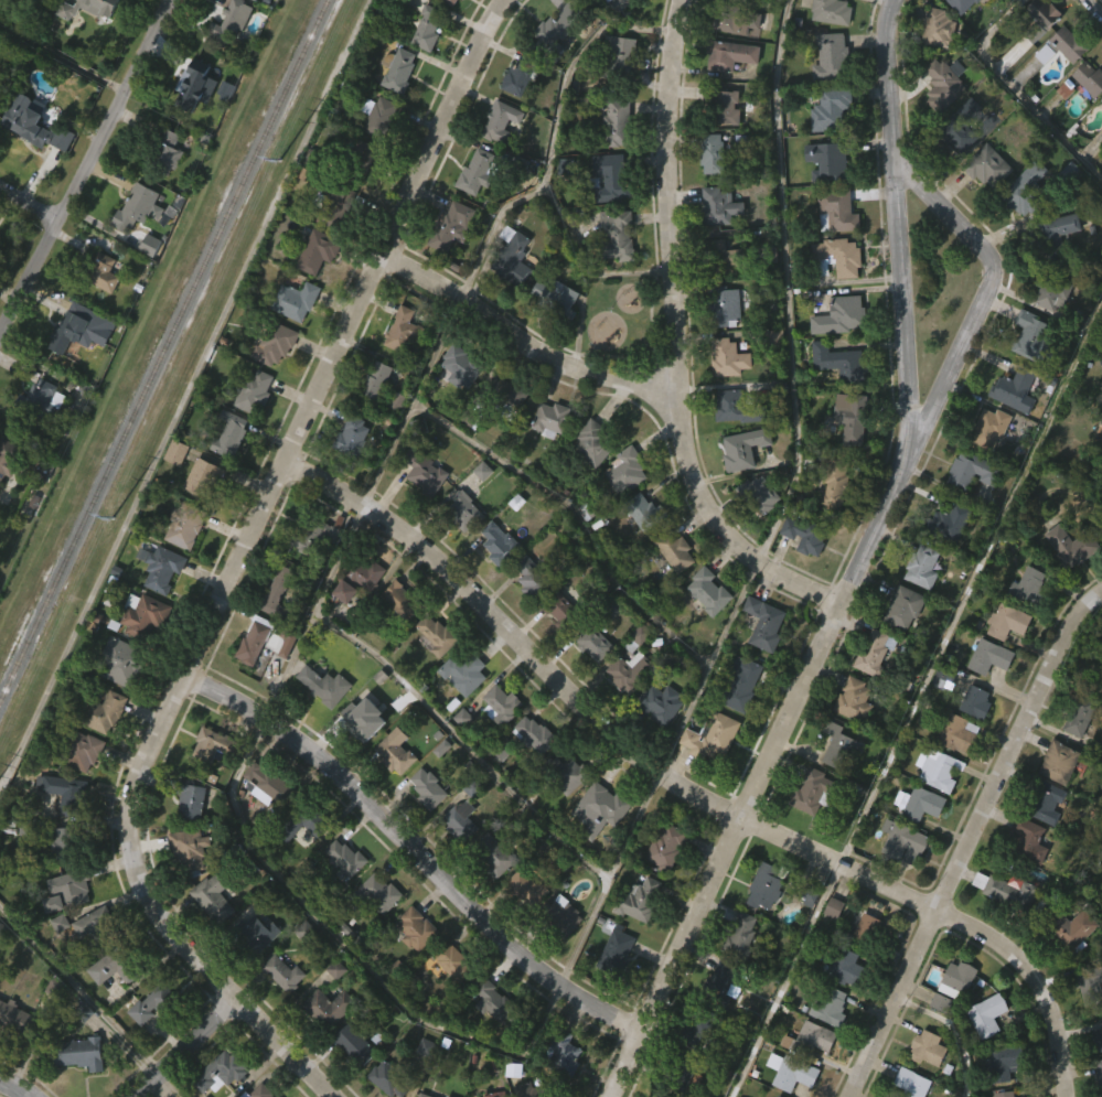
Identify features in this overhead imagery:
building: (472, 0)
building: (590, 0)
building: (451, 2)
building: (617, 4)
building: (770, 4)
building: (852, 4)
building: (45, 6)
building: (962, 6)
building: (90, 7)
building: (1018, 7)
building: (253, 8)
building: (833, 11)
building: (1047, 12)
building: (737, 21)
building: (229, 22)
building: (605, 28)
building: (431, 29)
building: (939, 29)
building: (961, 29)
building: (556, 32)
building: (89, 35)
building: (1063, 46)
building: (1039, 47)
building: (622, 53)
building: (730, 55)
building: (832, 57)
building: (223, 63)
building: (422, 65)
building: (550, 67)
building: (933, 67)
building: (398, 71)
building: (520, 75)
building: (1063, 80)
building: (1089, 80)
building: (945, 83)
building: (195, 85)
building: (614, 90)
building: (726, 92)
road: (1018, 92)
building: (826, 94)
building: (724, 105)
building: (394, 106)
building: (835, 108)
building: (513, 115)
building: (1085, 116)
building: (378, 117)
building: (501, 122)
building: (621, 122)
building: (937, 122)
building: (26, 126)
building: (962, 127)
road: (554, 137)
building: (1100, 138)
building: (720, 144)
building: (163, 152)
building: (373, 153)
building: (713, 153)
building: (834, 158)
building: (496, 159)
building: (30, 161)
power tower: (281, 161)
building: (360, 161)
building: (959, 164)
building: (1100, 164)
road: (85, 165)
building: (988, 166)
building: (478, 172)
building: (1070, 174)
building: (614, 178)
building: (162, 189)
building: (360, 190)
building: (707, 190)
building: (1026, 190)
road: (668, 193)
building: (822, 197)
road: (30, 203)
building: (557, 203)
building: (982, 203)
building: (332, 204)
building: (721, 206)
building: (472, 207)
building: (137, 208)
building: (841, 211)
building: (607, 214)
building: (451, 226)
building: (1019, 226)
building: (618, 235)
building: (1055, 236)
building: (715, 243)
building: (135, 245)
building: (320, 251)
building: (721, 257)
building: (513, 258)
building: (836, 258)
building: (448, 261)
road: (590, 264)
building: (1051, 270)
building: (101, 272)
building: (612, 272)
building: (145, 281)
road: (788, 283)
building: (313, 288)
road: (984, 289)
building: (507, 292)
building: (1052, 292)
building: (832, 294)
building: (556, 299)
building: (296, 301)
building: (726, 304)
building: (98, 309)
building: (838, 315)
building: (1047, 330)
building: (71, 331)
building: (552, 334)
building: (1031, 334)
building: (293, 338)
road: (525, 338)
building: (719, 343)
building: (275, 344)
railway: (163, 348)
building: (728, 358)
building: (841, 363)
building: (76, 365)
building: (462, 365)
building: (396, 366)
building: (1027, 373)
building: (769, 374)
building: (271, 380)
building: (374, 383)
building: (1016, 388)
building: (254, 389)
building: (506, 395)
building: (40, 397)
building: (834, 397)
road: (314, 399)
road: (414, 400)
building: (457, 404)
building: (737, 407)
building: (852, 416)
building: (371, 417)
building: (553, 418)
building: (1010, 427)
building: (503, 428)
building: (991, 428)
building: (250, 429)
building: (229, 433)
building: (39, 435)
building: (351, 435)
building: (392, 438)
building: (593, 441)
building: (743, 448)
building: (175, 451)
building: (846, 454)
building: (545, 455)
building: (9, 459)
building: (984, 465)
building: (627, 470)
building: (425, 471)
building: (227, 472)
building: (347, 473)
building: (203, 476)
building: (587, 481)
building: (836, 482)
building: (739, 484)
building: (171, 488)
building: (7, 492)
building: (759, 493)
building: (966, 507)
building: (419, 508)
building: (620, 508)
building: (464, 510)
building: (645, 510)
building: (200, 513)
road: (576, 517)
power tower: (114, 521)
building: (831, 521)
building: (946, 524)
building: (184, 525)
road: (718, 526)
building: (756, 530)
building: (315, 534)
building: (806, 534)
building: (500, 542)
building: (1072, 546)
building: (459, 548)
building: (638, 548)
building: (675, 549)
building: (944, 559)
building: (179, 564)
building: (923, 566)
building: (162, 568)
road: (858, 569)
building: (310, 572)
building: (373, 573)
building: (800, 574)
building: (534, 577)
building: (493, 579)
building: (1064, 583)
building: (670, 587)
building: (1030, 587)
building: (709, 591)
building: (280, 593)
building: (399, 600)
building: (157, 604)
building: (905, 606)
building: (564, 611)
building: (526, 613)
building: (142, 614)
building: (354, 614)
building: (1007, 621)
building: (766, 622)
building: (1024, 622)
building: (272, 627)
building: (703, 627)
building: (440, 636)
building: (396, 637)
building: (639, 637)
building: (255, 639)
building: (282, 642)
building: (595, 643)
building: (553, 644)
building: (898, 644)
building: (875, 650)
building: (138, 652)
building: (991, 656)
building: (758, 662)
road: (708, 665)
building: (124, 667)
building: (630, 670)
building: (430, 671)
building: (946, 673)
building: (464, 674)
building: (278, 679)
building: (588, 679)
building: (248, 680)
building: (742, 684)
building: (324, 685)
building: (869, 687)
building: (854, 699)
road: (917, 699)
road: (421, 700)
building: (976, 701)
building: (660, 703)
building: (501, 705)
building: (624, 708)
building: (459, 709)
road: (590, 711)
building: (108, 712)
building: (1080, 713)
building: (360, 717)
building: (737, 720)
building: (324, 725)
building: (959, 732)
building: (534, 733)
building: (720, 736)
building: (655, 739)
building: (496, 741)
building: (214, 745)
building: (839, 745)
building: (81, 749)
building: (101, 749)
building: (458, 753)
building: (357, 755)
building: (395, 755)
building: (1060, 762)
building: (953, 770)
building: (529, 771)
building: (566, 773)
building: (706, 773)
building: (208, 782)
building: (834, 782)
building: (269, 786)
building: (78, 787)
building: (390, 787)
building: (428, 789)
building: (813, 792)
building: (64, 793)
building: (190, 798)
building: (1047, 799)
building: (922, 803)
building: (602, 806)
building: (460, 820)
building: (261, 821)
building: (301, 821)
building: (424, 825)
building: (805, 826)
road: (970, 832)
building: (1030, 839)
building: (600, 840)
building: (903, 840)
building: (71, 841)
building: (666, 847)
building: (189, 848)
road: (415, 848)
building: (494, 854)
building: (454, 856)
building: (345, 858)
building: (299, 860)
building: (1024, 876)
building: (55, 878)
road: (609, 878)
building: (900, 880)
building: (661, 883)
building: (769, 884)
building: (184, 886)
building: (527, 888)
building: (67, 890)
building: (489, 890)
building: (1009, 891)
building: (341, 894)
building: (376, 894)
building: (213, 897)
building: (639, 900)
building: (564, 916)
building: (521, 924)
building: (760, 924)
building: (96, 925)
building: (867, 926)
building: (1067, 926)
building: (63, 927)
building: (1001, 927)
building: (417, 928)
building: (374, 929)
building: (208, 934)
building: (254, 935)
building: (740, 935)
building: (634, 936)
building: (828, 944)
building: (557, 953)
building: (616, 953)
building: (56, 959)
building: (452, 960)
building: (86, 961)
building: (115, 965)
road: (205, 966)
building: (411, 966)
building: (1062, 966)
building: (300, 967)
building: (848, 968)
building: (250, 972)
building: (282, 974)
building: (735, 975)
road: (1034, 979)
building: (957, 980)
building: (721, 982)
building: (1091, 985)
building: (611, 988)
road: (79, 989)
building: (449, 999)
building: (494, 1001)
building: (109, 1003)
building: (156, 1005)
building: (834, 1007)
building: (329, 1008)
building: (279, 1009)
building: (1087, 1013)
building: (988, 1014)
building: (952, 1015)
building: (717, 1019)
building: (17, 1020)
building: (698, 1025)
road: (957, 1029)
building: (489, 1037)
building: (813, 1039)
building: (1098, 1039)
building: (147, 1040)
building: (355, 1043)
building: (323, 1044)
road: (184, 1046)
building: (928, 1048)
building: (83, 1052)
building: (982, 1052)
building: (563, 1054)
building: (14, 1055)
building: (1004, 1063)
building: (220, 1072)
building: (792, 1072)
building: (683, 1073)
building: (1100, 1074)
building: (389, 1079)
building: (350, 1080)
building: (912, 1083)
road: (171, 1084)
building: (421, 1084)
building: (559, 1085)
building: (72, 1086)
road: (17, 1088)
building: (533, 1089)
building: (222, 1091)
building: (259, 1091)
building: (496, 1094)
building: (1006, 1094)
building: (424, 1095)
building: (376, 1096)
building: (447, 1096)
building: (674, 1096)
building: (780, 1096)
building: (1096, 1096)

